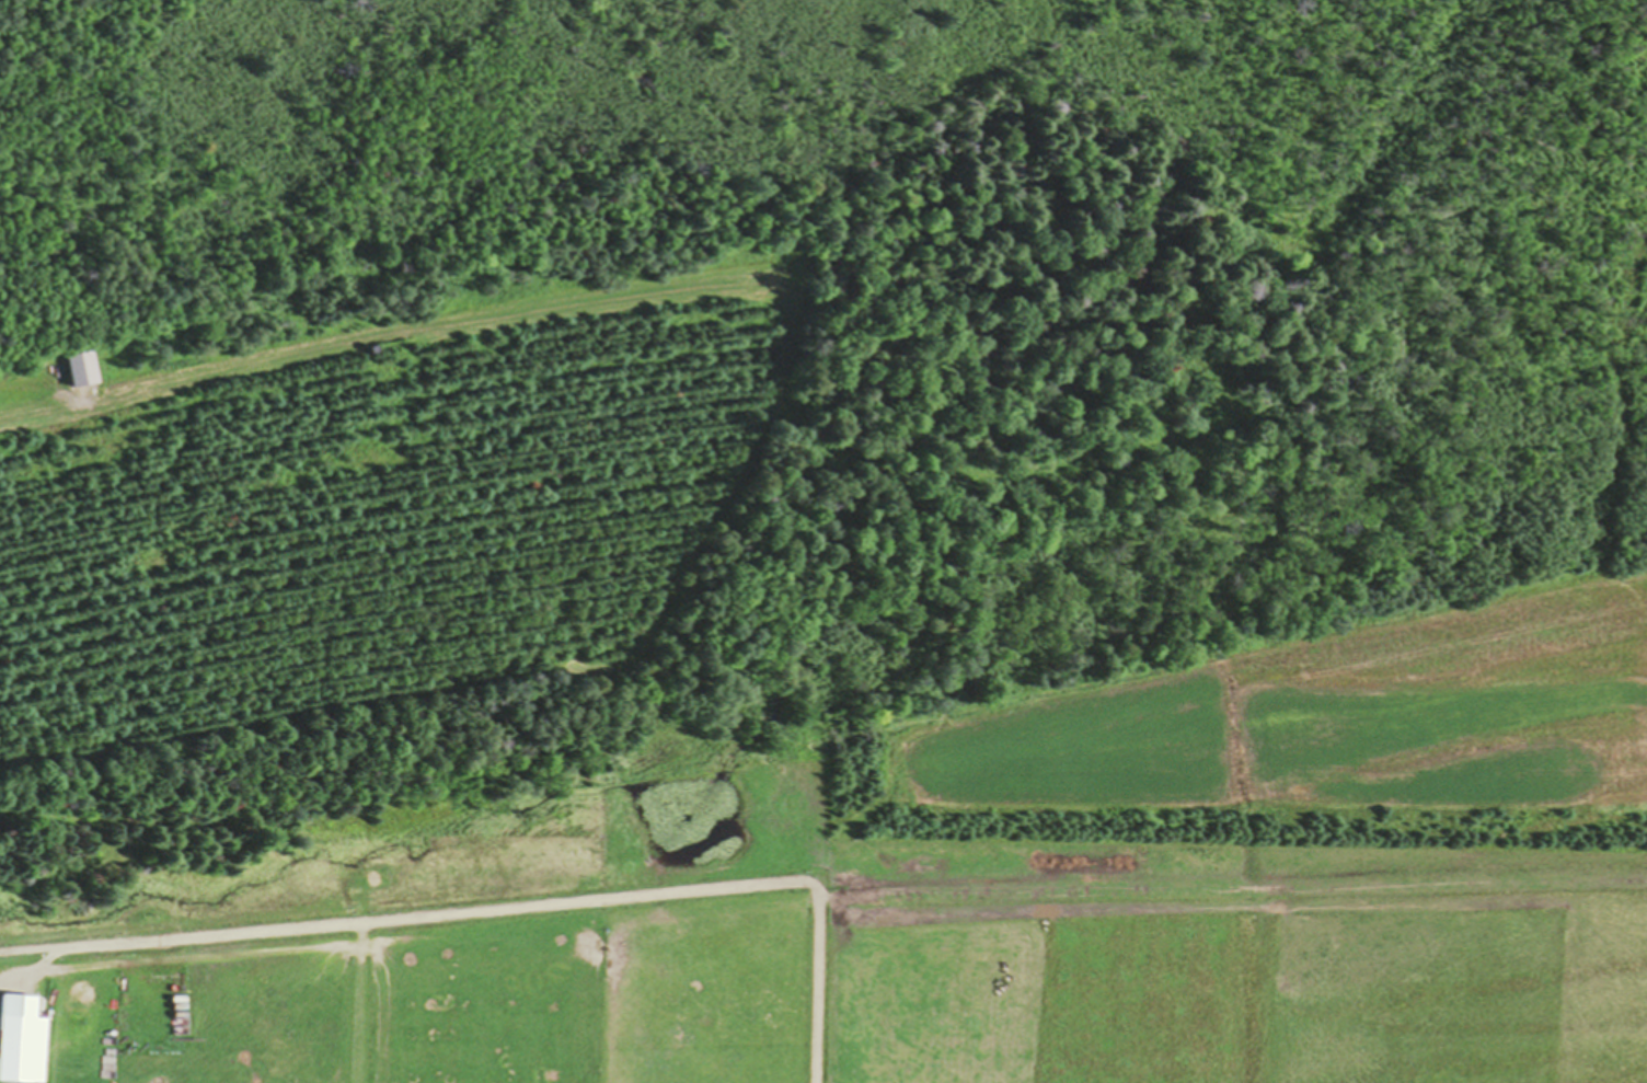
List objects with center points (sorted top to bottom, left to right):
building: (905, 863)
road: (2, 988)
building: (25, 1040)

